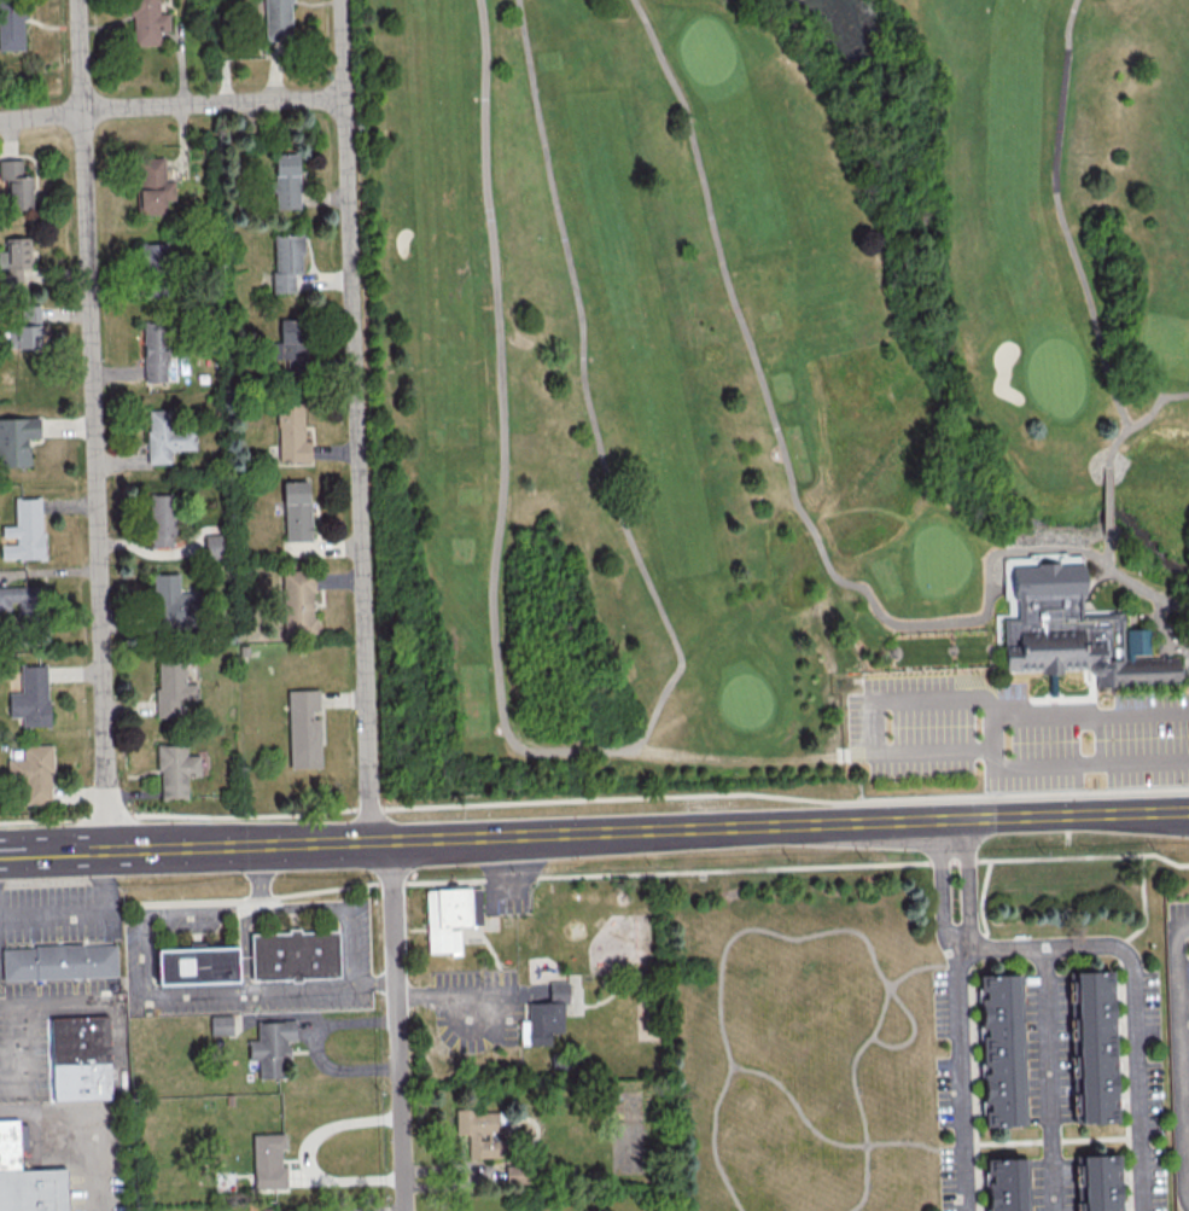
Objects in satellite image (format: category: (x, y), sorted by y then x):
building: (278, 18)
building: (146, 22)
building: (11, 25)
road: (173, 106)
building: (285, 180)
building: (16, 184)
building: (153, 187)
road: (1061, 219)
building: (152, 256)
building: (14, 260)
building: (285, 261)
building: (24, 330)
building: (155, 350)
building: (286, 350)
river: (946, 350)
park: (774, 400)
road: (357, 419)
road: (1142, 423)
road: (93, 424)
building: (291, 432)
building: (165, 436)
building: (16, 441)
road: (1109, 501)
road: (795, 506)
building: (296, 510)
building: (161, 520)
building: (23, 530)
building: (212, 545)
road: (1108, 558)
building: (18, 598)
building: (171, 600)
building: (297, 601)
road: (1162, 630)
building: (1079, 634)
building: (171, 688)
building: (30, 697)
road: (873, 717)
building: (303, 728)
parking lot: (1018, 734)
road: (990, 741)
road: (585, 753)
building: (175, 769)
building: (33, 772)
road: (594, 800)
road: (780, 823)
road: (314, 842)
road: (139, 848)
road: (10, 851)
road: (507, 862)
road: (646, 871)
road: (257, 875)
road: (101, 879)
road: (506, 891)
parking lot: (505, 898)
road: (1142, 904)
road: (52, 910)
parking lot: (53, 915)
building: (449, 915)
road: (245, 949)
building: (297, 956)
building: (59, 960)
parking lot: (0, 966)
building: (202, 966)
helipad: (186, 967)
road: (374, 985)
road: (490, 989)
road: (231, 990)
building: (233, 994)
road: (1133, 994)
road: (427, 995)
road: (29, 1002)
road: (881, 1011)
road: (957, 1014)
building: (544, 1015)
building: (221, 1023)
road: (398, 1025)
parking lot: (43, 1027)
building: (270, 1046)
building: (1094, 1046)
road: (315, 1047)
building: (1001, 1049)
building: (83, 1059)
road: (1181, 1062)
road: (733, 1070)
road: (19, 1075)
road: (1047, 1078)
road: (89, 1114)
building: (479, 1131)
road: (713, 1141)
building: (11, 1143)
road: (305, 1155)
building: (268, 1160)
building: (1100, 1182)
building: (1006, 1183)
building: (34, 1189)
parking lot: (75, 1189)
road: (379, 1207)

